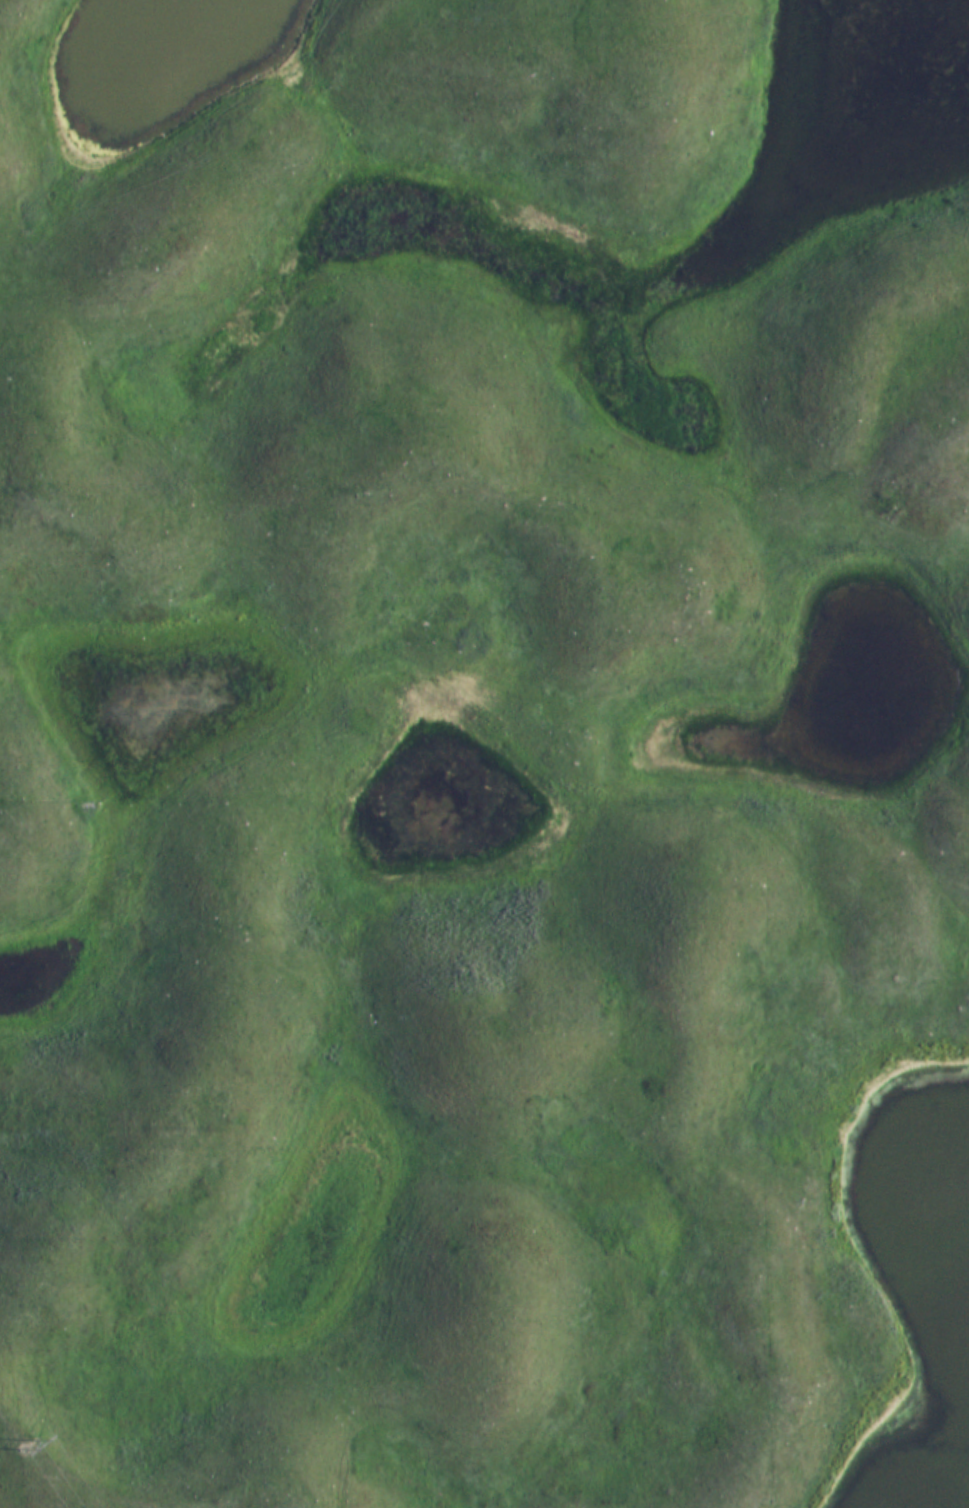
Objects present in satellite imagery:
power tower: (25, 1443)

